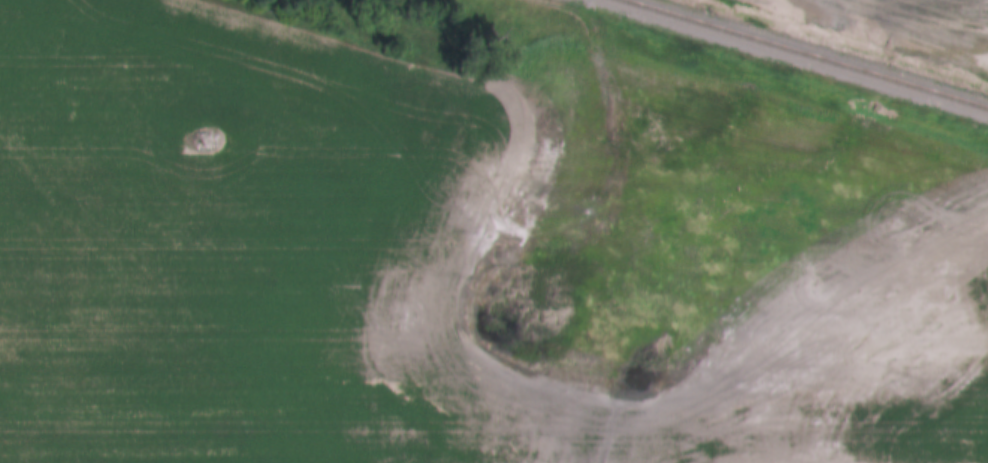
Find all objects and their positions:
railway: (803, 54)

